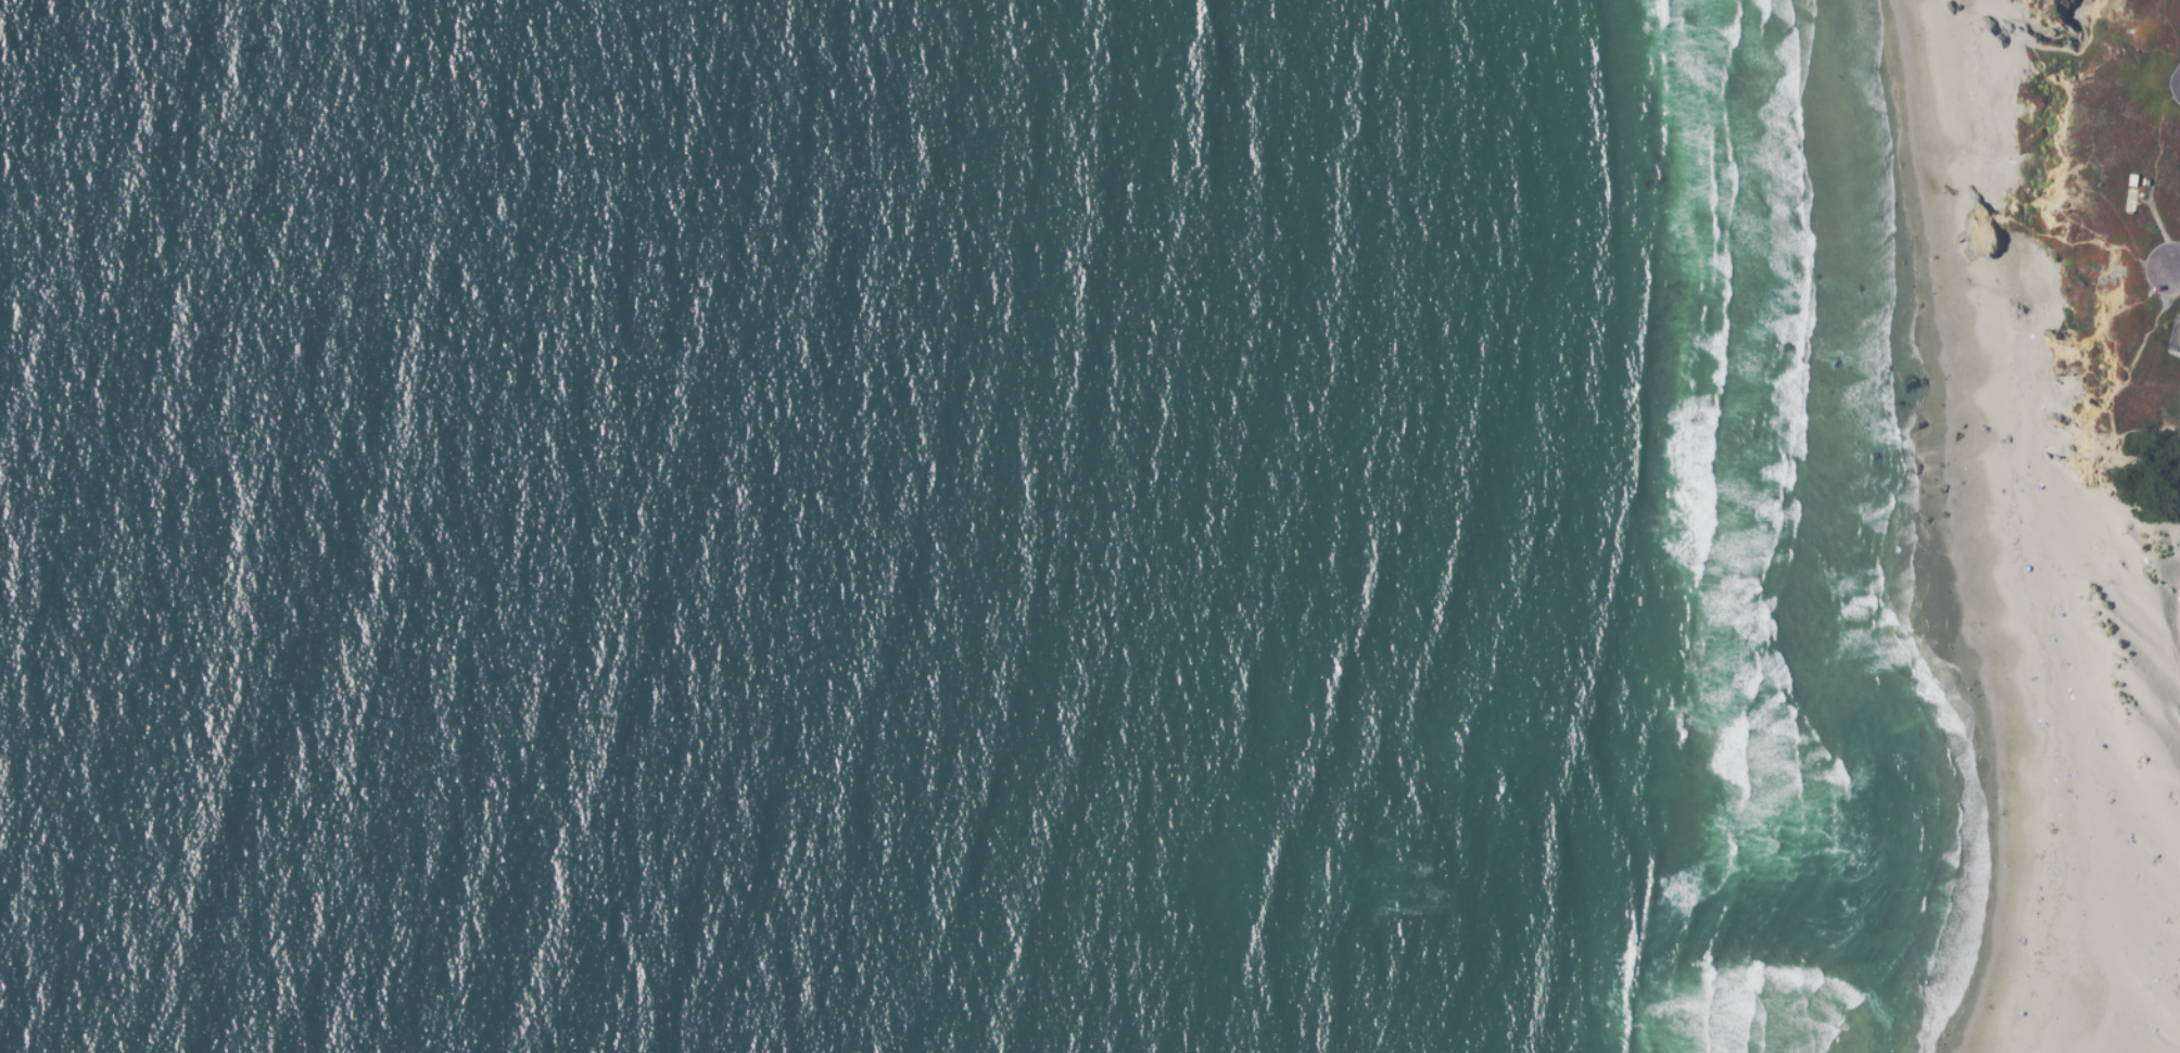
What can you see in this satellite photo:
road: (2175, 271)
building: (2177, 335)
parking lot: (2175, 618)

